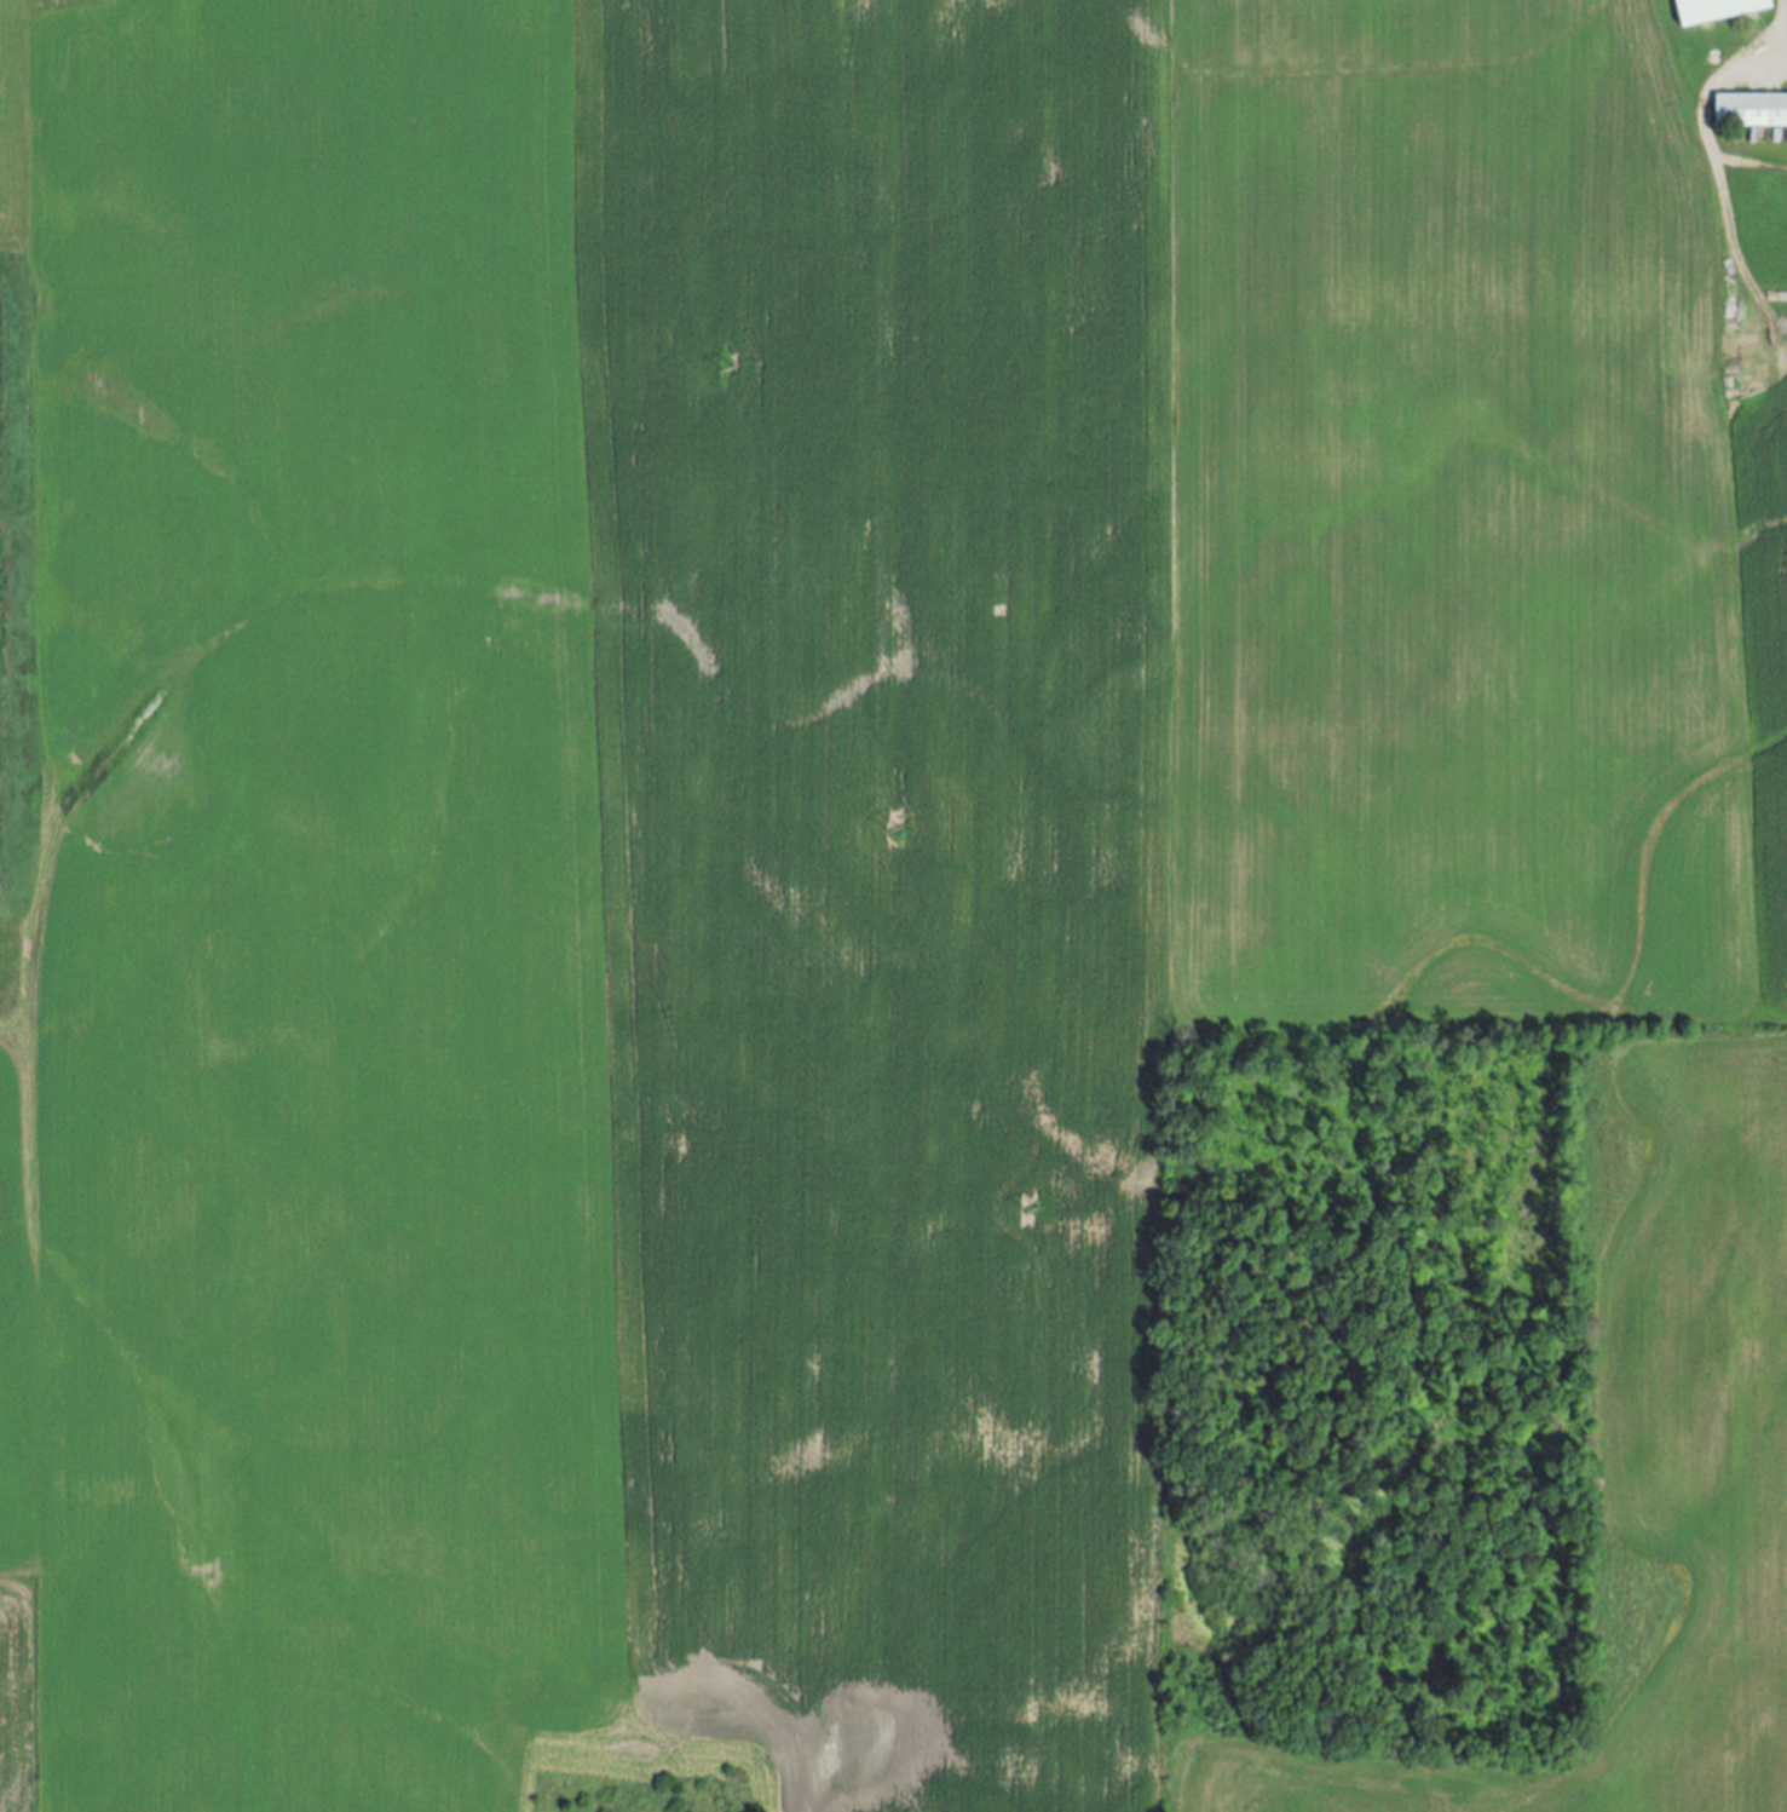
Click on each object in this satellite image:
building: (1717, 10)
road: (1785, 10)
building: (1751, 111)
power tower: (731, 370)
power tower: (895, 832)
power tower: (1031, 1209)
power tower: (1216, 1730)

